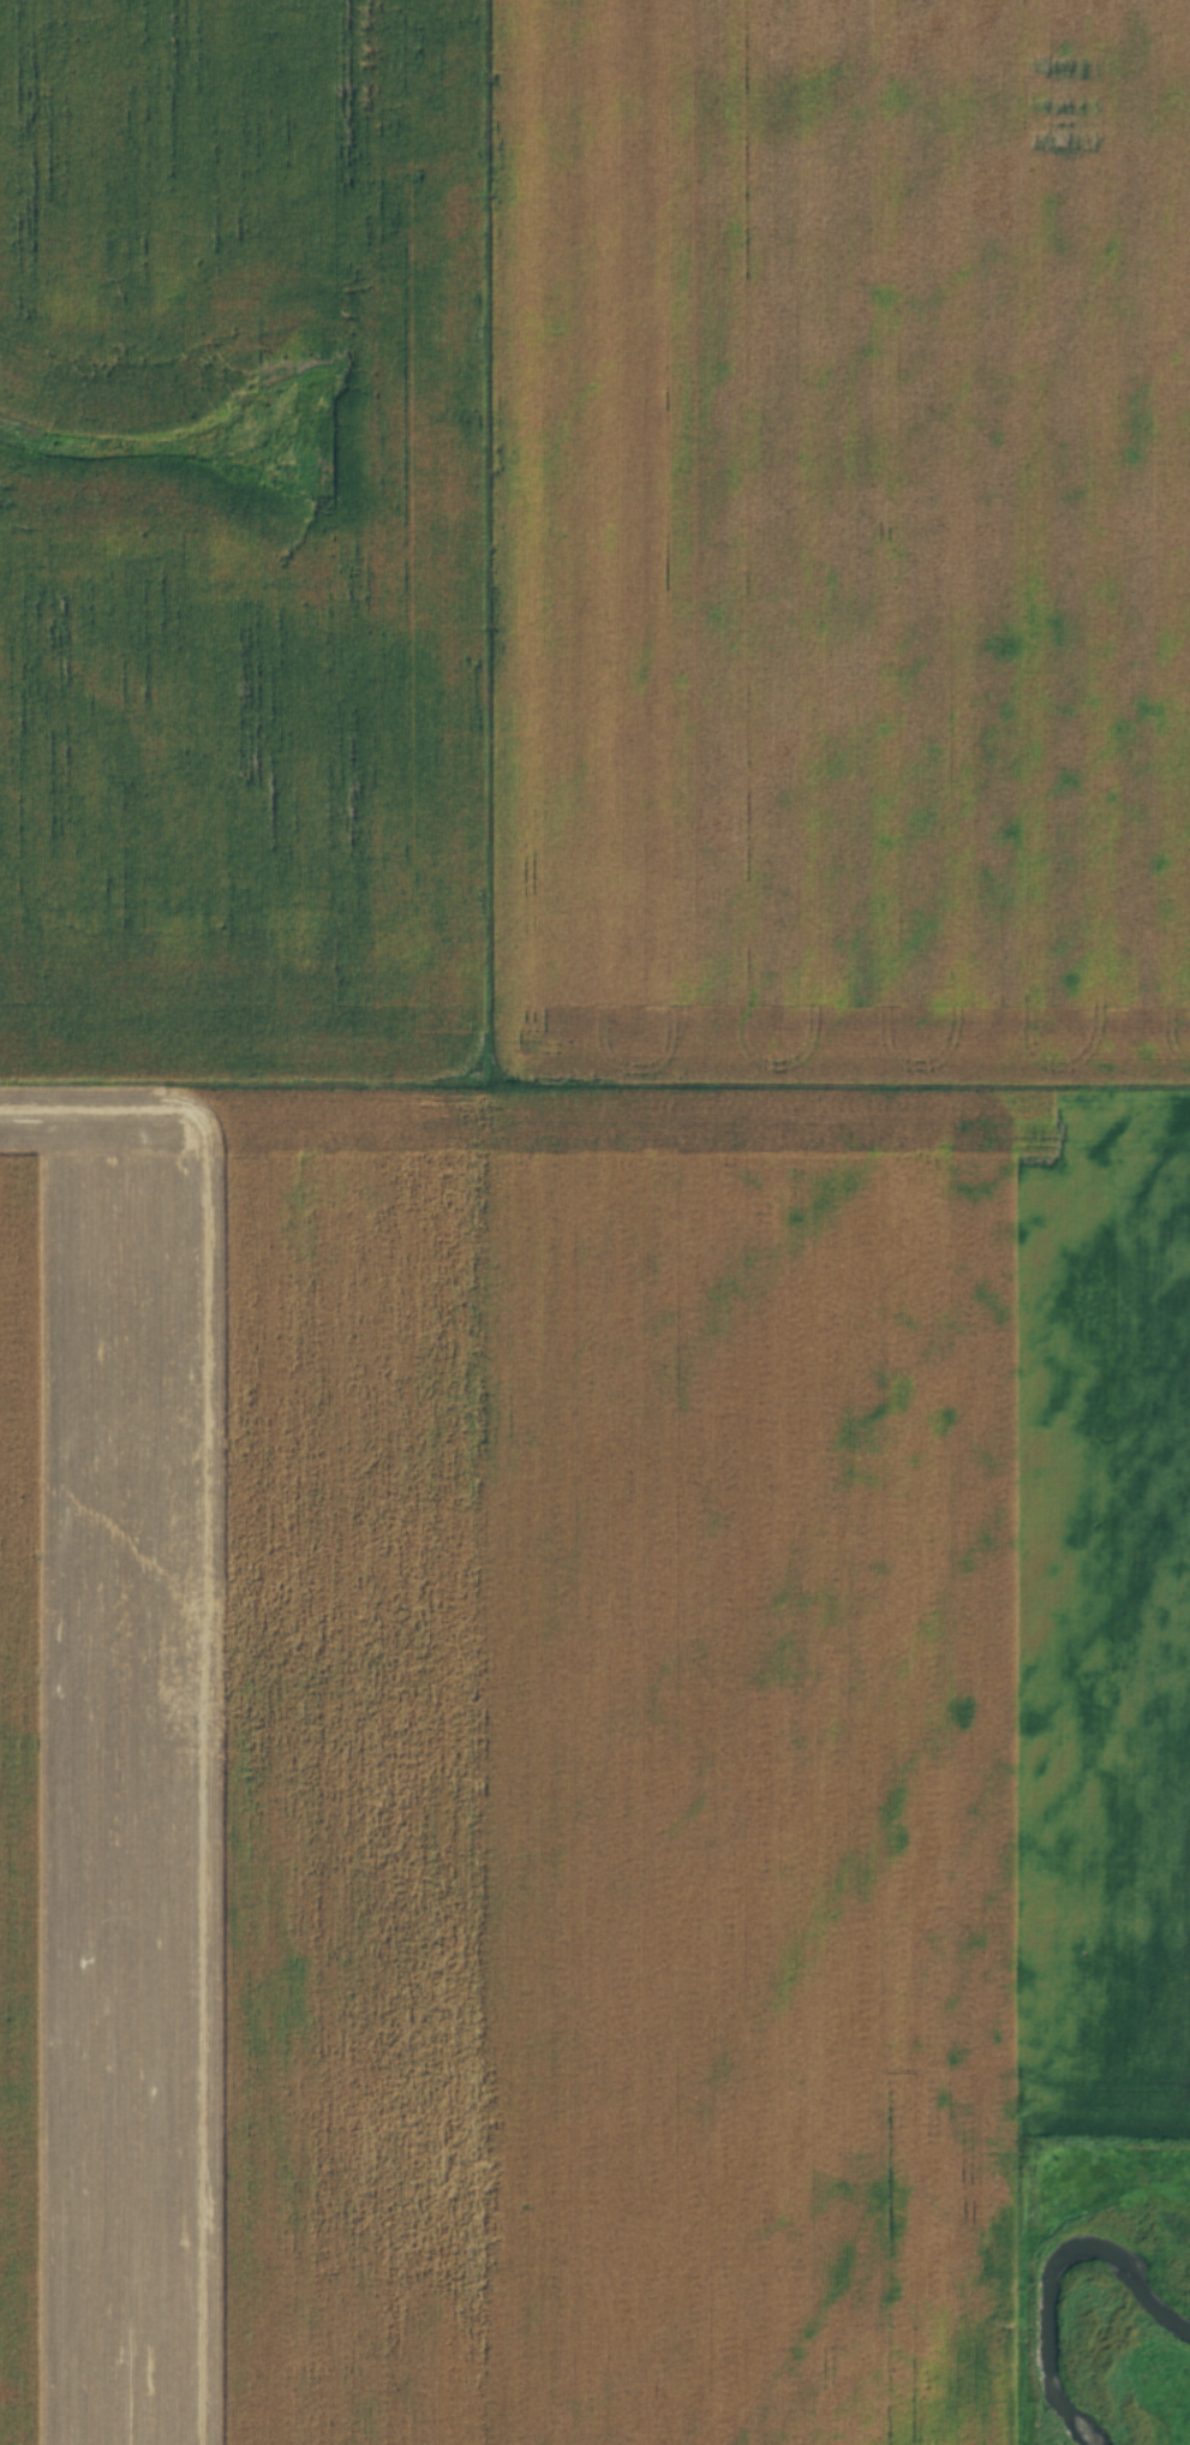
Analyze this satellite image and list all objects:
river: (1053, 2278)

